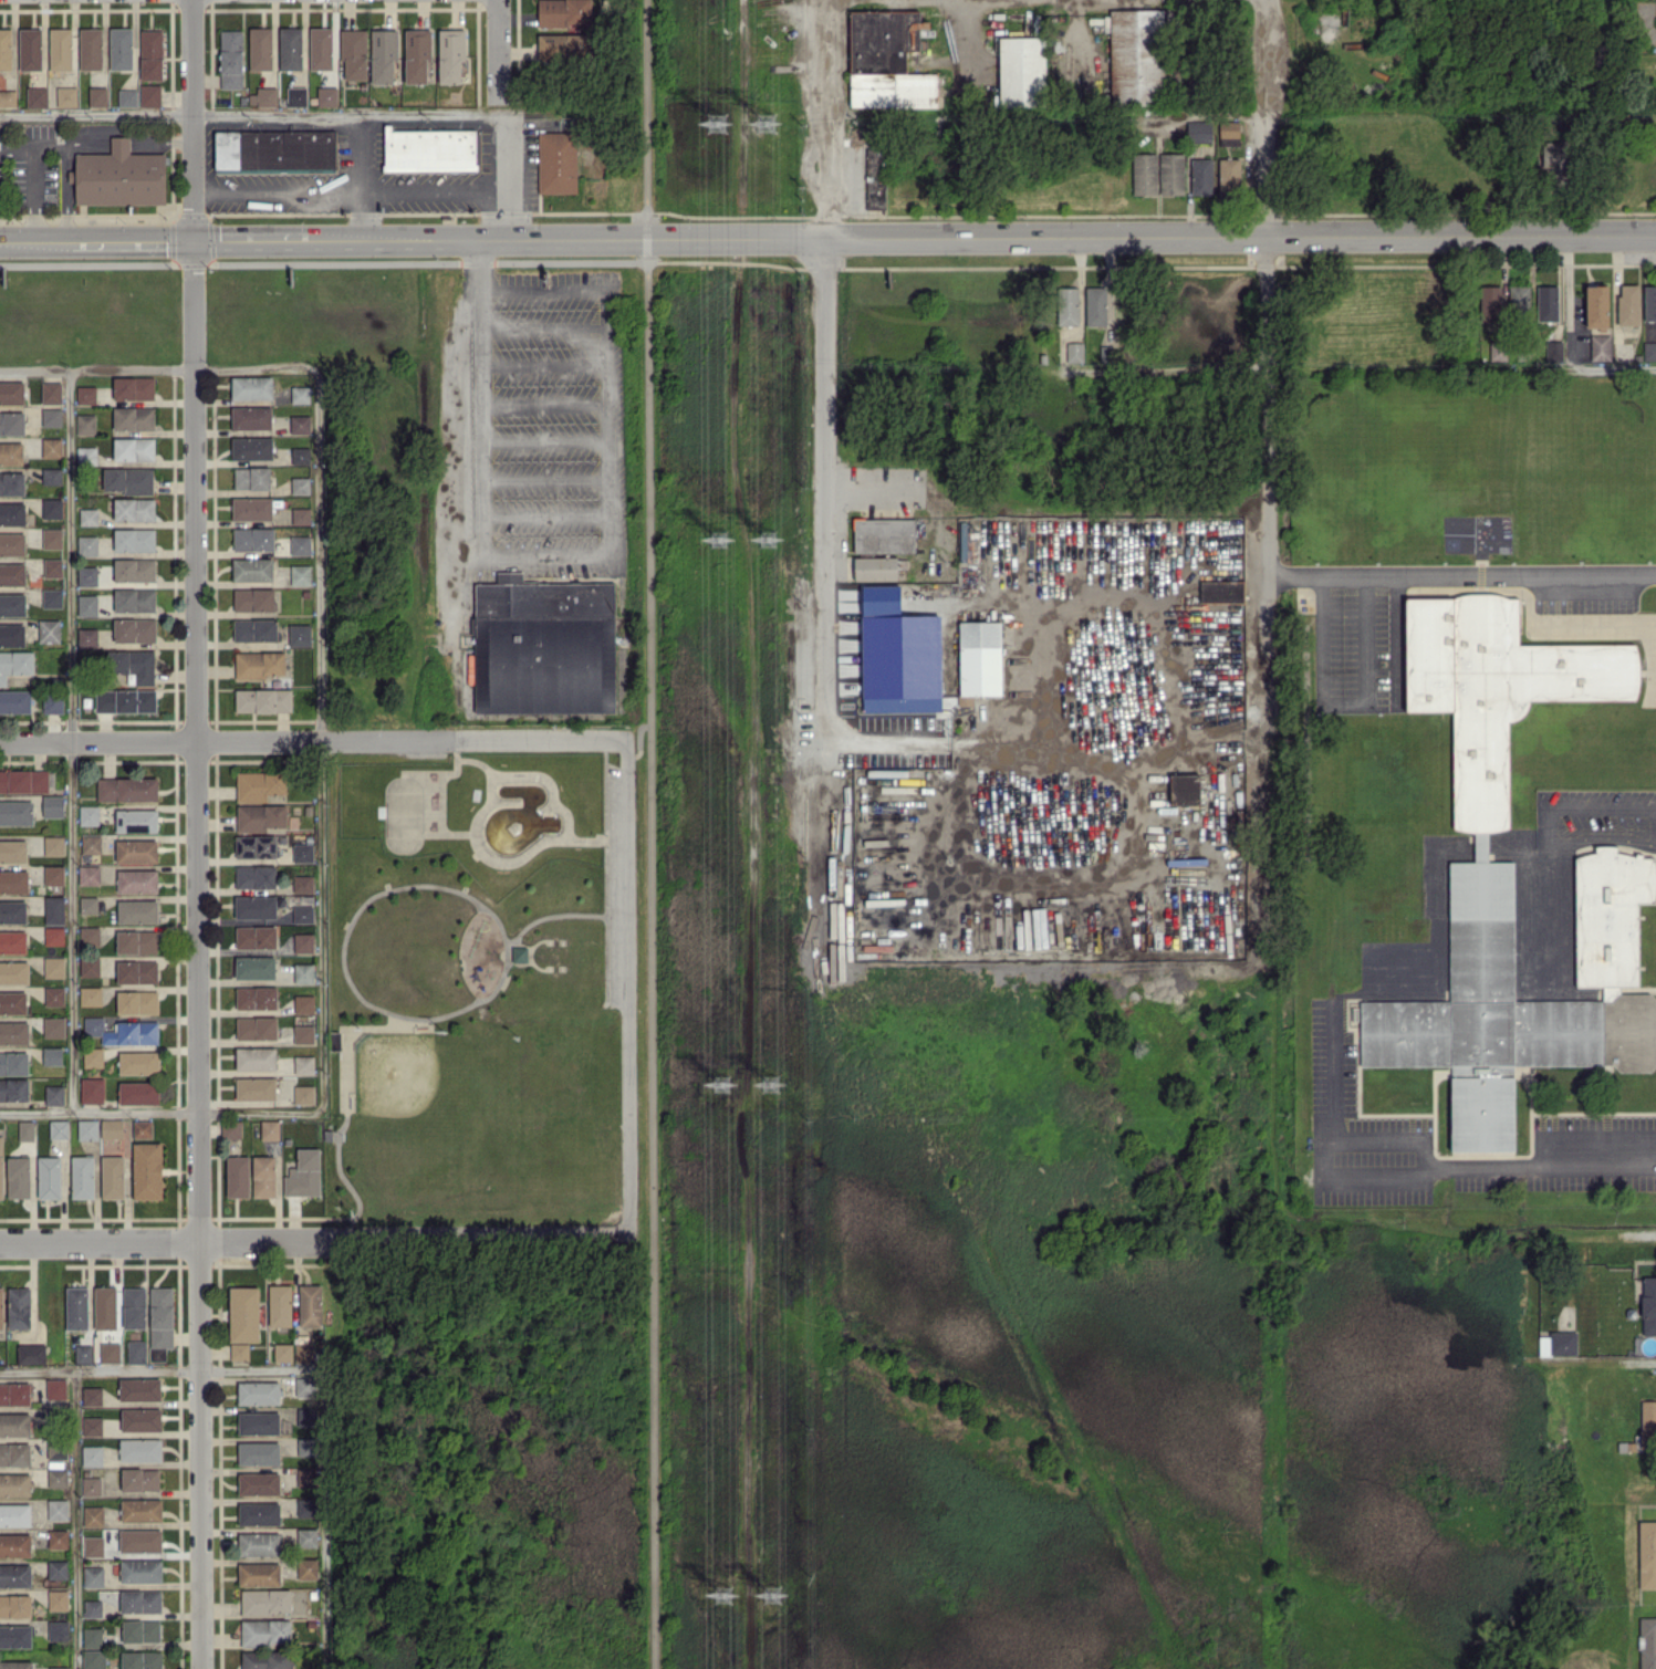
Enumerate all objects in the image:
building: (564, 12)
road: (1077, 31)
road: (966, 36)
building: (562, 45)
building: (30, 48)
building: (60, 48)
building: (91, 48)
building: (121, 48)
building: (260, 48)
building: (290, 48)
building: (321, 48)
road: (499, 48)
building: (4, 49)
building: (353, 52)
building: (150, 54)
building: (383, 54)
building: (417, 54)
building: (450, 54)
building: (1136, 55)
building: (230, 58)
building: (887, 60)
road: (744, 67)
building: (1021, 71)
building: (149, 94)
building: (97, 95)
building: (296, 95)
building: (326, 95)
building: (37, 96)
building: (66, 96)
building: (127, 96)
building: (265, 96)
building: (8, 97)
road: (648, 107)
road: (253, 112)
power tower: (769, 122)
power tower: (715, 127)
building: (1198, 132)
building: (1228, 133)
road: (81, 143)
road: (51, 145)
building: (429, 149)
building: (275, 150)
building: (556, 161)
building: (1554, 163)
building: (1144, 174)
building: (1170, 174)
road: (35, 176)
building: (118, 176)
road: (507, 176)
building: (1200, 176)
building: (1228, 177)
building: (875, 178)
road: (395, 188)
road: (303, 189)
road: (648, 227)
road: (1152, 237)
traffic signals: (192, 241)
road: (324, 241)
road: (648, 250)
road: (543, 288)
building: (1518, 300)
building: (1545, 302)
building: (1649, 302)
building: (1490, 303)
building: (1064, 304)
building: (1627, 304)
building: (1096, 305)
road: (543, 327)
road: (1568, 342)
building: (1600, 347)
building: (1074, 351)
building: (1649, 351)
road: (543, 365)
road: (158, 366)
road: (1264, 366)
building: (251, 386)
building: (133, 387)
building: (11, 392)
building: (51, 392)
building: (85, 394)
building: (300, 394)
road: (543, 404)
road: (827, 410)
building: (51, 417)
building: (133, 417)
building: (251, 417)
road: (607, 421)
building: (11, 423)
building: (85, 423)
building: (300, 424)
road: (544, 440)
building: (51, 447)
building: (251, 447)
building: (133, 448)
building: (11, 452)
building: (86, 455)
building: (300, 455)
road: (481, 461)
building: (51, 474)
building: (251, 477)
building: (128, 479)
road: (544, 479)
building: (11, 482)
building: (300, 484)
building: (51, 507)
building: (251, 508)
building: (134, 509)
building: (12, 513)
building: (87, 515)
building: (300, 515)
road: (544, 517)
building: (884, 534)
building: (51, 538)
building: (252, 538)
building: (134, 539)
power tower: (717, 541)
power tower: (771, 541)
building: (12, 543)
building: (300, 544)
building: (86, 545)
building: (52, 566)
building: (875, 567)
building: (252, 568)
building: (134, 570)
road: (1460, 572)
building: (12, 574)
building: (300, 574)
building: (86, 575)
building: (1220, 591)
building: (52, 597)
building: (253, 598)
building: (134, 599)
building: (12, 604)
building: (86, 604)
building: (254, 628)
building: (49, 629)
building: (134, 629)
building: (299, 634)
building: (11, 635)
building: (86, 636)
road: (1395, 636)
building: (540, 645)
building: (902, 655)
building: (980, 659)
building: (15, 664)
building: (259, 664)
building: (263, 699)
building: (14, 700)
building: (125, 700)
road: (1344, 700)
building: (52, 702)
road: (71, 737)
road: (319, 737)
road: (471, 739)
road: (1049, 739)
road: (159, 740)
building: (23, 780)
building: (259, 784)
building: (126, 787)
building: (1184, 789)
building: (52, 805)
road: (1617, 806)
building: (15, 812)
building: (88, 814)
building: (261, 816)
building: (135, 820)
road: (196, 834)
building: (90, 843)
building: (53, 845)
building: (256, 845)
building: (136, 849)
building: (12, 851)
building: (302, 852)
building: (1510, 863)
building: (53, 874)
building: (88, 874)
building: (254, 876)
building: (13, 880)
building: (136, 880)
building: (302, 883)
building: (87, 904)
building: (254, 906)
building: (53, 909)
building: (137, 910)
building: (12, 911)
building: (302, 914)
building: (53, 935)
building: (88, 936)
building: (256, 937)
building: (12, 941)
building: (136, 941)
building: (303, 942)
building: (519, 953)
road: (652, 964)
building: (53, 966)
building: (88, 966)
building: (254, 967)
building: (13, 971)
building: (136, 971)
building: (303, 972)
road: (624, 985)
park: (467, 987)
building: (53, 995)
building: (90, 995)
building: (256, 997)
building: (137, 1001)
building: (12, 1002)
building: (303, 1003)
building: (53, 1026)
building: (256, 1028)
building: (122, 1031)
building: (13, 1032)
building: (303, 1033)
building: (51, 1055)
building: (92, 1056)
building: (254, 1057)
building: (137, 1062)
building: (13, 1063)
building: (303, 1064)
road: (1332, 1068)
power tower: (719, 1079)
power tower: (773, 1086)
building: (254, 1087)
building: (13, 1088)
building: (91, 1089)
building: (138, 1092)
building: (53, 1094)
building: (303, 1094)
road: (159, 1108)
building: (111, 1127)
building: (58, 1128)
building: (87, 1128)
building: (142, 1128)
building: (25, 1129)
building: (231, 1129)
building: (269, 1129)
road: (1378, 1138)
road: (1540, 1161)
building: (1, 1167)
building: (146, 1169)
building: (303, 1172)
building: (18, 1176)
building: (82, 1176)
building: (112, 1176)
building: (237, 1176)
building: (263, 1176)
building: (49, 1177)
road: (1371, 1179)
road: (475, 1233)
road: (163, 1242)
building: (280, 1304)
building: (309, 1304)
building: (1648, 1305)
building: (19, 1306)
building: (104, 1306)
building: (1, 1307)
building: (76, 1307)
building: (134, 1307)
building: (243, 1314)
building: (160, 1316)
building: (1558, 1343)
building: (136, 1350)
building: (239, 1350)
building: (110, 1352)
building: (282, 1352)
building: (303, 1352)
building: (30, 1353)
building: (82, 1353)
road: (162, 1367)
building: (304, 1386)
building: (55, 1387)
building: (139, 1388)
building: (258, 1391)
building: (14, 1392)
building: (91, 1395)
building: (1647, 1414)
building: (140, 1418)
building: (258, 1422)
building: (14, 1423)
building: (91, 1425)
building: (305, 1446)
building: (139, 1449)
building: (56, 1451)
building: (258, 1452)
building: (14, 1453)
building: (91, 1454)
building: (56, 1478)
building: (139, 1479)
building: (14, 1483)
building: (258, 1483)
building: (91, 1485)
building: (305, 1506)
building: (56, 1509)
building: (140, 1510)
building: (258, 1513)
building: (14, 1514)
building: (93, 1515)
road: (325, 1517)
road: (74, 1519)
building: (306, 1536)
building: (58, 1537)
building: (139, 1540)
building: (259, 1543)
building: (14, 1544)
building: (93, 1545)
building: (1646, 1554)
building: (56, 1568)
building: (306, 1568)
building: (140, 1569)
building: (259, 1574)
building: (14, 1575)
building: (93, 1576)
power tower: (721, 1595)
power tower: (777, 1596)
building: (58, 1598)
building: (139, 1600)
building: (264, 1602)
building: (14, 1605)
building: (92, 1607)
building: (139, 1629)
building: (58, 1630)
building: (264, 1631)
building: (15, 1636)
building: (92, 1636)
building: (1646, 1642)
building: (93, 1659)
building: (267, 1659)
building: (140, 1660)
building: (15, 1665)
building: (58, 1667)

